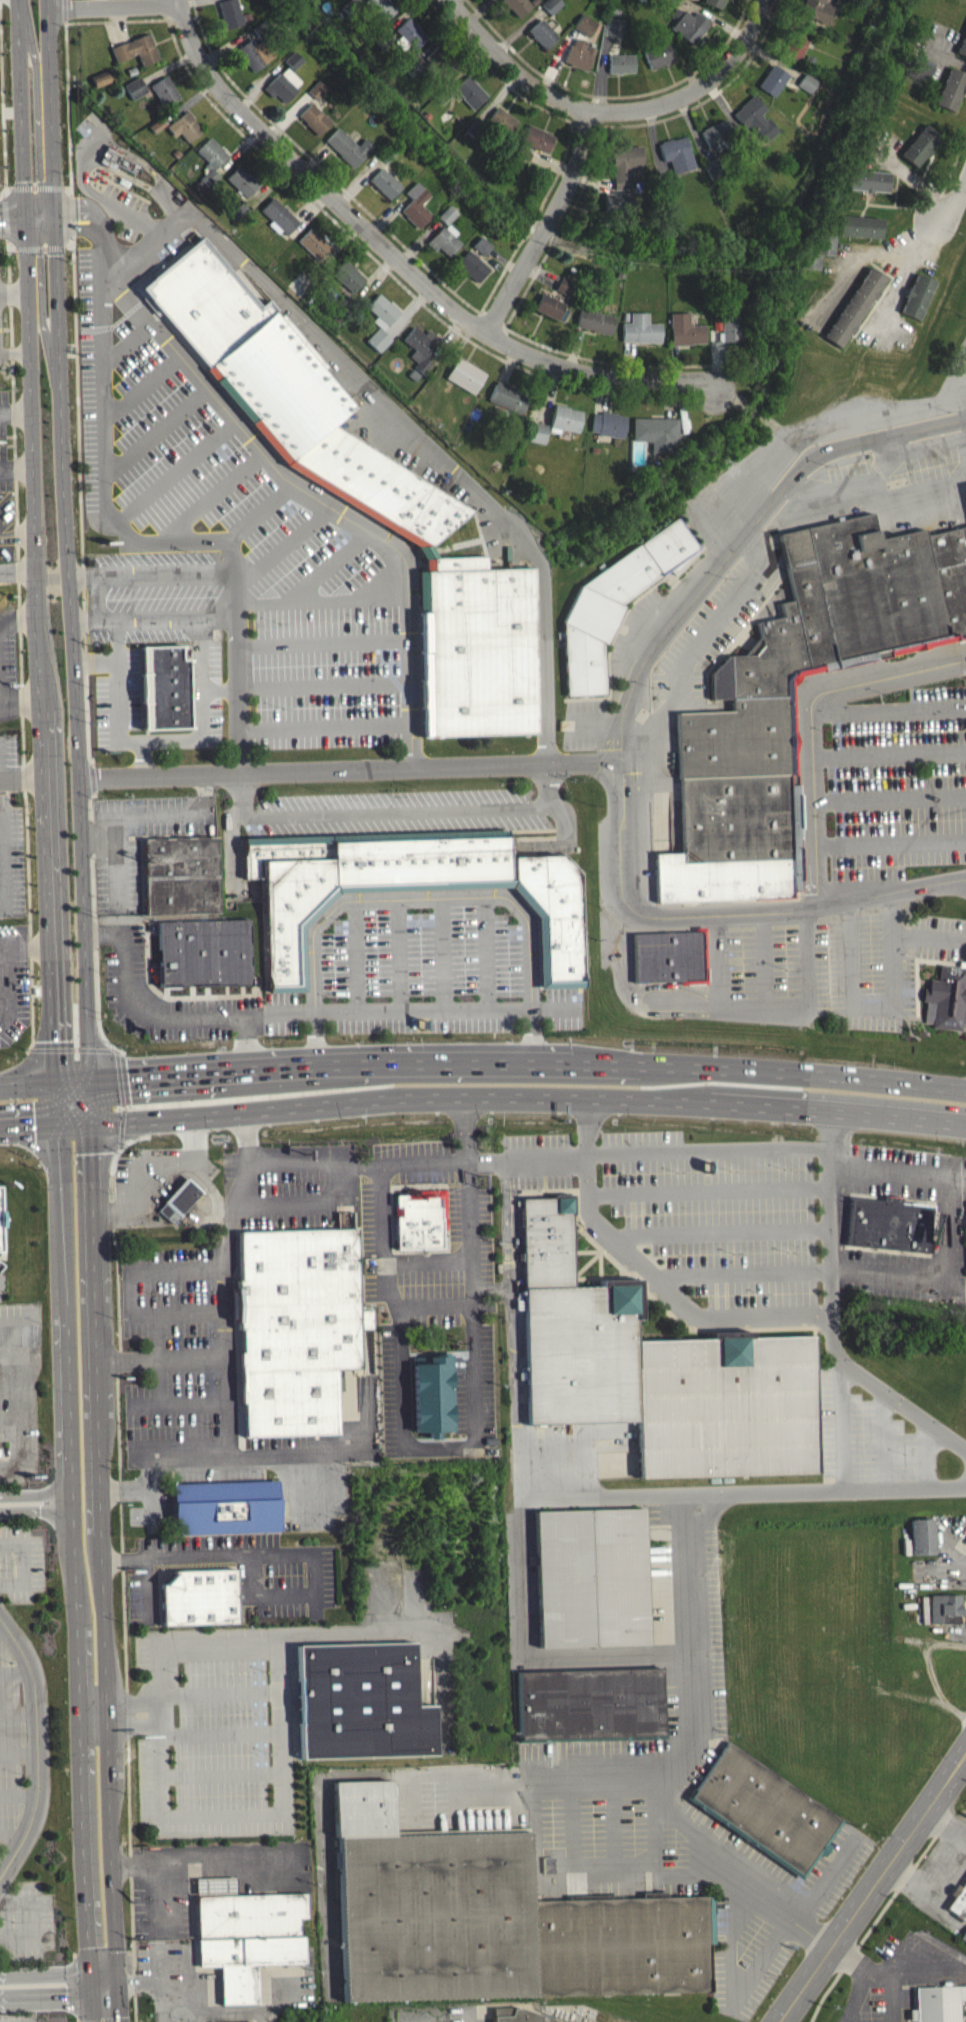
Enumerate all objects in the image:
building: (643, 1)
road: (174, 2)
building: (536, 2)
building: (672, 2)
building: (718, 3)
building: (845, 4)
road: (110, 5)
building: (519, 6)
building: (554, 6)
building: (352, 7)
road: (65, 9)
building: (379, 9)
building: (819, 11)
building: (616, 12)
building: (231, 14)
building: (248, 17)
road: (20, 19)
building: (588, 25)
building: (692, 26)
building: (616, 27)
building: (263, 30)
building: (411, 35)
building: (545, 35)
building: (385, 39)
building: (798, 46)
building: (964, 49)
building: (138, 51)
building: (258, 54)
building: (582, 55)
building: (661, 56)
building: (295, 61)
building: (812, 61)
building: (440, 63)
building: (624, 64)
road: (509, 67)
building: (414, 68)
building: (923, 70)
building: (133, 71)
building: (838, 75)
building: (103, 81)
building: (775, 81)
building: (809, 83)
building: (284, 85)
building: (137, 88)
building: (319, 90)
road: (699, 90)
building: (954, 90)
building: (166, 92)
building: (471, 93)
building: (442, 96)
road: (3, 98)
road: (37, 106)
road: (68, 106)
building: (429, 116)
building: (758, 118)
building: (315, 119)
building: (504, 122)
road: (23, 123)
building: (160, 125)
building: (187, 127)
building: (476, 128)
building: (719, 135)
building: (538, 139)
building: (924, 146)
building: (349, 148)
building: (178, 154)
building: (388, 154)
building: (524, 155)
building: (679, 155)
building: (213, 161)
building: (110, 162)
road: (572, 162)
building: (627, 165)
building: (717, 169)
building: (872, 181)
building: (244, 182)
building: (387, 184)
road: (9, 187)
road: (36, 187)
road: (65, 187)
building: (671, 187)
road: (3, 193)
traffic signals: (24, 197)
building: (621, 202)
road: (953, 202)
building: (418, 206)
road: (12, 208)
traffic signals: (65, 208)
road: (70, 208)
building: (241, 211)
road: (72, 215)
building: (449, 215)
road: (5, 216)
building: (281, 217)
building: (604, 223)
road: (541, 225)
building: (864, 227)
traffic signals: (14, 229)
road: (26, 229)
road: (76, 229)
traffic signals: (53, 238)
building: (446, 240)
building: (317, 244)
building: (483, 246)
road: (39, 247)
road: (67, 247)
road: (12, 248)
building: (821, 252)
road: (401, 263)
building: (474, 267)
building: (620, 276)
road: (904, 276)
building: (350, 277)
road: (510, 285)
building: (566, 286)
road: (14, 291)
building: (918, 297)
building: (348, 307)
building: (551, 307)
building: (856, 308)
building: (720, 310)
building: (384, 312)
building: (597, 322)
building: (714, 323)
building: (641, 329)
building: (732, 330)
building: (687, 331)
road: (127, 340)
building: (380, 340)
building: (423, 348)
road: (15, 349)
building: (416, 376)
building: (467, 376)
road: (141, 383)
building: (511, 398)
street lamp: (949, 411)
road: (16, 412)
building: (567, 420)
building: (610, 425)
road: (399, 427)
road: (156, 430)
building: (539, 433)
building: (658, 434)
parking lot: (4, 443)
building: (596, 450)
street lamp: (825, 464)
road: (17, 466)
road: (173, 468)
building: (650, 469)
parking lot: (737, 488)
road: (36, 493)
road: (316, 496)
road: (210, 497)
road: (80, 499)
building: (362, 503)
road: (258, 511)
parking lot: (240, 530)
road: (744, 535)
road: (140, 537)
road: (18, 540)
road: (282, 543)
road: (67, 559)
road: (329, 563)
road: (19, 574)
street lamp: (725, 577)
road: (94, 594)
road: (322, 598)
building: (614, 602)
road: (20, 625)
parking lot: (629, 628)
building: (825, 634)
road: (324, 640)
road: (19, 643)
road: (93, 658)
parking lot: (7, 663)
road: (884, 676)
road: (325, 683)
building: (166, 685)
street lamp: (651, 685)
road: (219, 686)
street lamp: (883, 696)
road: (22, 698)
road: (891, 710)
parking lot: (582, 723)
road: (597, 723)
road: (326, 727)
street lamp: (829, 731)
road: (157, 738)
road: (892, 754)
road: (142, 757)
road: (349, 768)
road: (92, 775)
road: (23, 778)
parking lot: (893, 783)
road: (893, 798)
road: (821, 809)
road: (397, 810)
parking lot: (399, 810)
road: (169, 814)
building: (738, 816)
street lamp: (831, 820)
street lamp: (913, 820)
road: (894, 845)
road: (5, 856)
parking lot: (11, 856)
road: (118, 857)
parking lot: (118, 874)
building: (180, 874)
building: (724, 877)
road: (961, 884)
building: (408, 887)
road: (896, 894)
road: (451, 897)
road: (2, 906)
road: (655, 916)
road: (93, 922)
road: (53, 948)
building: (196, 951)
street lamp: (909, 951)
road: (483, 953)
parking lot: (125, 954)
road: (442, 954)
road: (398, 955)
building: (671, 955)
road: (355, 956)
road: (5, 959)
parking lot: (818, 966)
street lamp: (787, 967)
parking lot: (422, 974)
parking lot: (13, 982)
building: (946, 997)
road: (876, 1007)
road: (448, 1010)
road: (310, 1013)
road: (158, 1017)
road: (769, 1020)
road: (68, 1048)
road: (112, 1049)
road: (483, 1068)
traffic signals: (90, 1084)
traffic signals: (58, 1085)
road: (964, 1087)
road: (120, 1095)
road: (483, 1105)
traffic signals: (62, 1118)
traffic signals: (88, 1118)
road: (960, 1128)
road: (247, 1137)
road: (119, 1145)
road: (709, 1151)
road: (958, 1177)
parking lot: (963, 1179)
street lamp: (295, 1189)
road: (710, 1190)
parking lot: (453, 1204)
parking lot: (695, 1205)
building: (176, 1206)
building: (419, 1217)
building: (1, 1218)
road: (227, 1221)
building: (889, 1222)
road: (948, 1225)
parking lot: (948, 1228)
road: (722, 1232)
building: (0, 1241)
road: (116, 1246)
road: (424, 1261)
parking lot: (403, 1262)
road: (652, 1274)
road: (745, 1274)
road: (0, 1282)
parking lot: (0, 1284)
road: (233, 1296)
street lamp: (204, 1298)
street lamp: (149, 1299)
road: (429, 1305)
parking lot: (211, 1310)
road: (233, 1310)
road: (832, 1316)
building: (293, 1333)
road: (11, 1354)
road: (117, 1360)
building: (656, 1369)
road: (238, 1384)
road: (11, 1387)
road: (23, 1393)
building: (429, 1393)
parking lot: (19, 1394)
parking lot: (474, 1400)
road: (239, 1424)
road: (844, 1424)
street lamp: (208, 1431)
street lamp: (147, 1433)
parking lot: (869, 1438)
road: (884, 1438)
road: (440, 1447)
road: (241, 1449)
road: (926, 1452)
parking lot: (312, 1491)
road: (741, 1492)
road: (47, 1495)
building: (224, 1507)
road: (42, 1512)
building: (921, 1533)
road: (301, 1554)
parking lot: (20, 1561)
road: (22, 1562)
road: (147, 1567)
road: (79, 1570)
road: (99, 1570)
road: (518, 1573)
parking lot: (241, 1574)
building: (591, 1576)
building: (200, 1596)
building: (944, 1607)
road: (4, 1628)
parking lot: (677, 1635)
road: (683, 1652)
road: (15, 1670)
road: (126, 1697)
building: (359, 1700)
building: (589, 1704)
road: (19, 1711)
road: (692, 1717)
parking lot: (205, 1731)
parking lot: (11, 1745)
road: (38, 1747)
road: (19, 1753)
road: (554, 1770)
road: (446, 1774)
road: (18, 1793)
parking lot: (964, 1805)
building: (764, 1808)
road: (574, 1816)
road: (947, 1824)
road: (654, 1833)
road: (12, 1835)
road: (615, 1835)
road: (323, 1840)
parking lot: (644, 1843)
road: (940, 1860)
road: (692, 1873)
road: (1, 1876)
road: (905, 1876)
road: (768, 1881)
road: (872, 1889)
building: (959, 1900)
building: (493, 1918)
road: (874, 1920)
building: (245, 1933)
road: (813, 1934)
building: (963, 1940)
road: (898, 1954)
road: (879, 1970)
road: (6, 1976)
traffic signals: (96, 1976)
road: (865, 1976)
road: (60, 1977)
parking lot: (898, 1977)
road: (136, 1982)
traffic signals: (119, 1983)
road: (732, 1993)
road: (61, 1997)
traffic signals: (97, 1997)
road: (163, 2000)
building: (938, 2002)
building: (508, 2011)
parking lot: (25, 2015)
building: (522, 2016)

